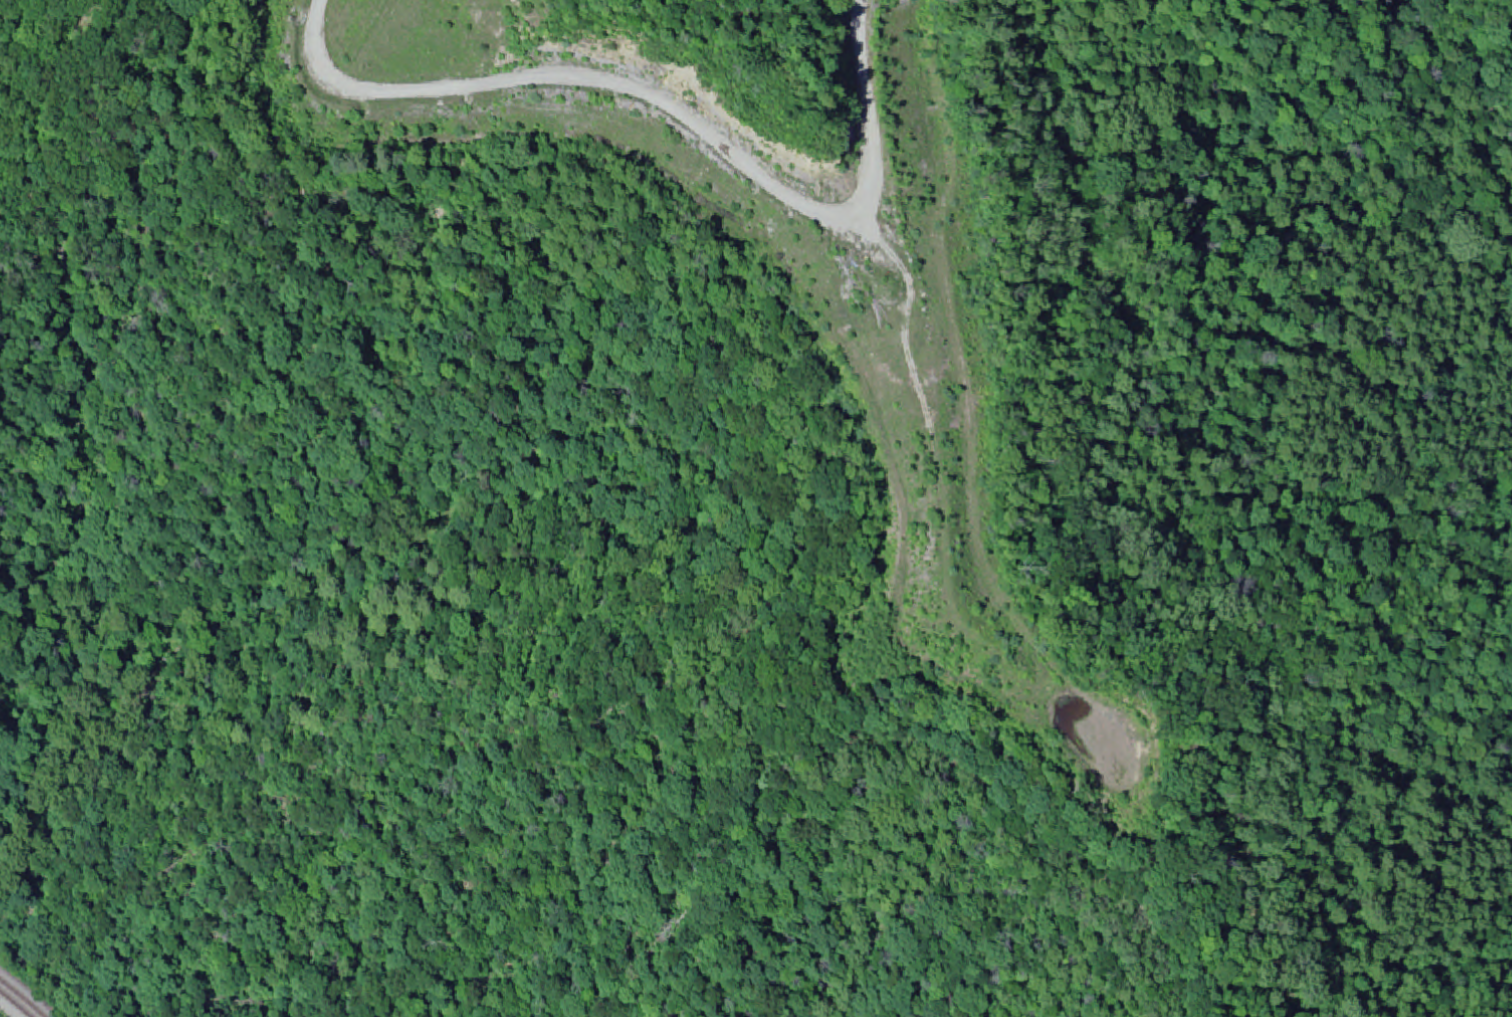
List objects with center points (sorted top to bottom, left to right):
quarry: (668, 133)
railway: (25, 994)
road: (6, 1012)

